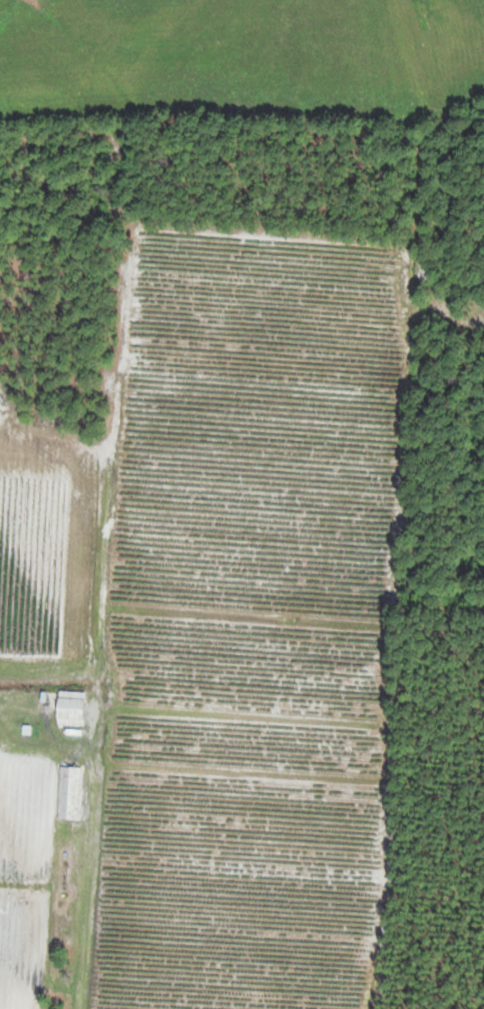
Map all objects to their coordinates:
building: (67, 706)
building: (69, 792)

